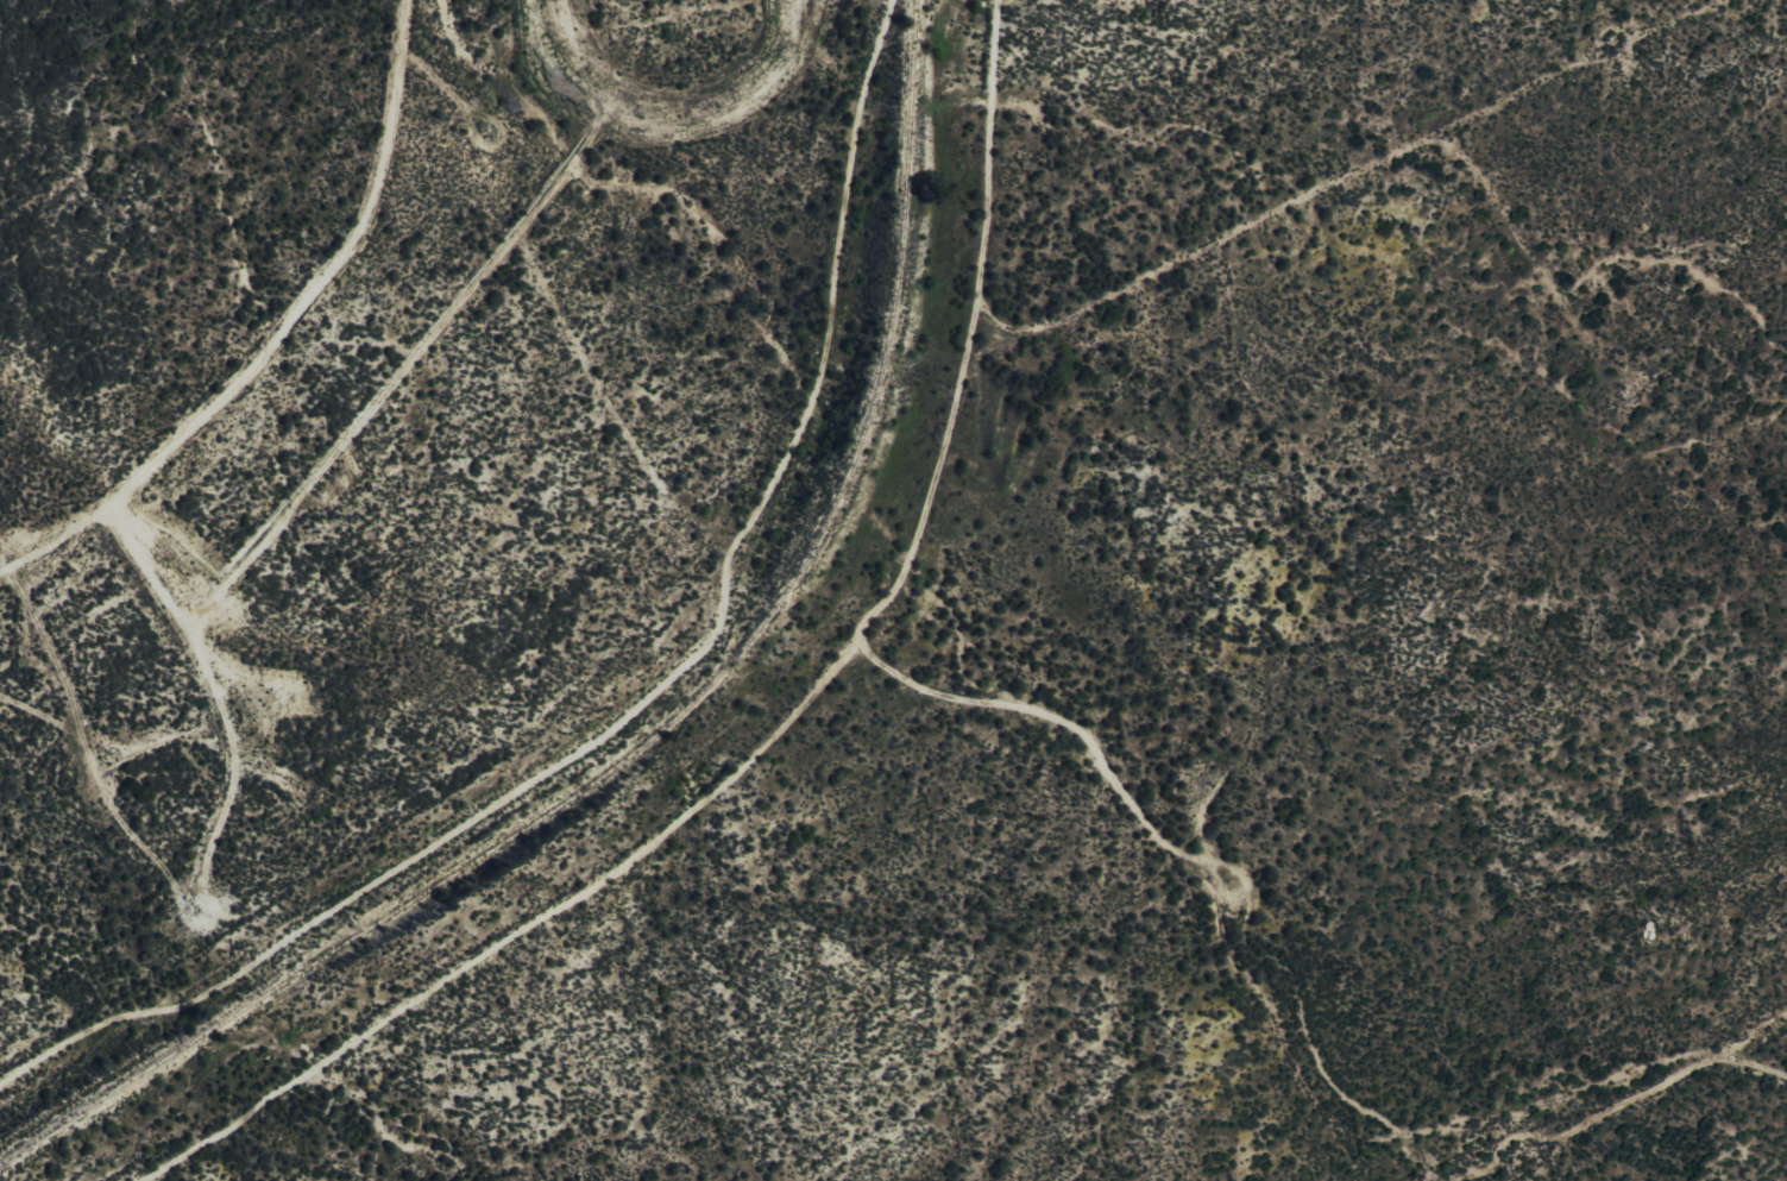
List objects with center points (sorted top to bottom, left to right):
railway: (665, 727)

